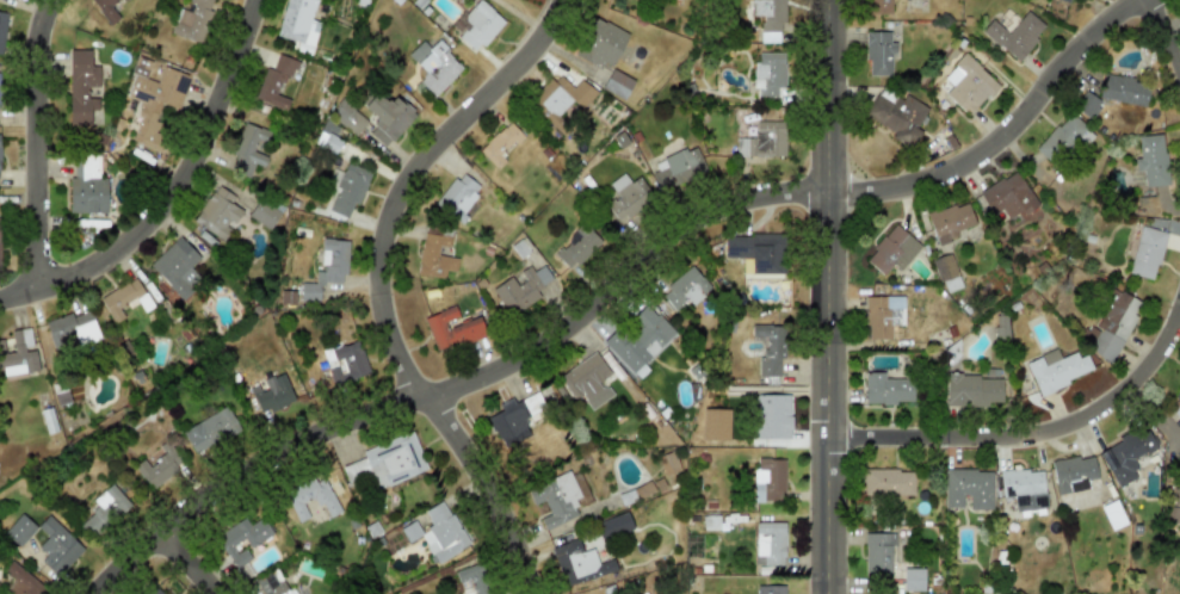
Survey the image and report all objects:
building: (1064, 0)
road: (1153, 4)
road: (1163, 4)
building: (877, 6)
building: (105, 10)
building: (768, 18)
building: (191, 19)
building: (297, 21)
building: (478, 25)
building: (1, 30)
building: (1014, 35)
road: (1167, 37)
building: (599, 43)
building: (878, 54)
building: (433, 66)
building: (767, 73)
building: (274, 81)
building: (617, 83)
building: (81, 85)
building: (966, 85)
building: (1124, 89)
building: (560, 97)
building: (153, 100)
building: (1086, 104)
building: (895, 113)
building: (347, 116)
building: (387, 117)
building: (327, 137)
building: (764, 140)
building: (1061, 140)
building: (500, 143)
road: (37, 148)
building: (247, 150)
building: (1150, 159)
building: (677, 168)
building: (86, 185)
building: (348, 188)
building: (458, 196)
building: (1006, 196)
building: (625, 197)
road: (179, 198)
building: (217, 212)
building: (264, 214)
building: (949, 222)
building: (576, 247)
building: (1148, 248)
building: (891, 250)
building: (756, 253)
building: (433, 256)
building: (175, 267)
building: (326, 268)
building: (946, 272)
road: (632, 280)
road: (375, 286)
building: (685, 287)
building: (520, 289)
road: (828, 297)
building: (882, 315)
building: (1112, 326)
building: (451, 329)
building: (70, 330)
building: (637, 338)
building: (770, 348)
building: (18, 353)
building: (344, 361)
building: (1056, 369)
building: (587, 380)
building: (885, 389)
building: (972, 390)
building: (271, 394)
building: (1175, 406)
building: (771, 416)
road: (1155, 417)
building: (513, 419)
building: (48, 420)
building: (715, 423)
building: (210, 429)
road: (1033, 432)
building: (1125, 454)
building: (383, 464)
building: (159, 466)
building: (1073, 472)
building: (768, 478)
building: (888, 482)
building: (968, 488)
building: (1023, 488)
building: (1175, 495)
building: (309, 497)
building: (555, 497)
building: (104, 509)
building: (1112, 514)
building: (1170, 514)
building: (613, 525)
building: (19, 530)
building: (437, 532)
building: (227, 539)
building: (768, 544)
building: (56, 545)
building: (877, 552)
building: (577, 562)
road: (191, 567)
building: (474, 577)
building: (913, 578)
building: (21, 581)
building: (272, 583)
building: (768, 589)
building: (153, 590)

